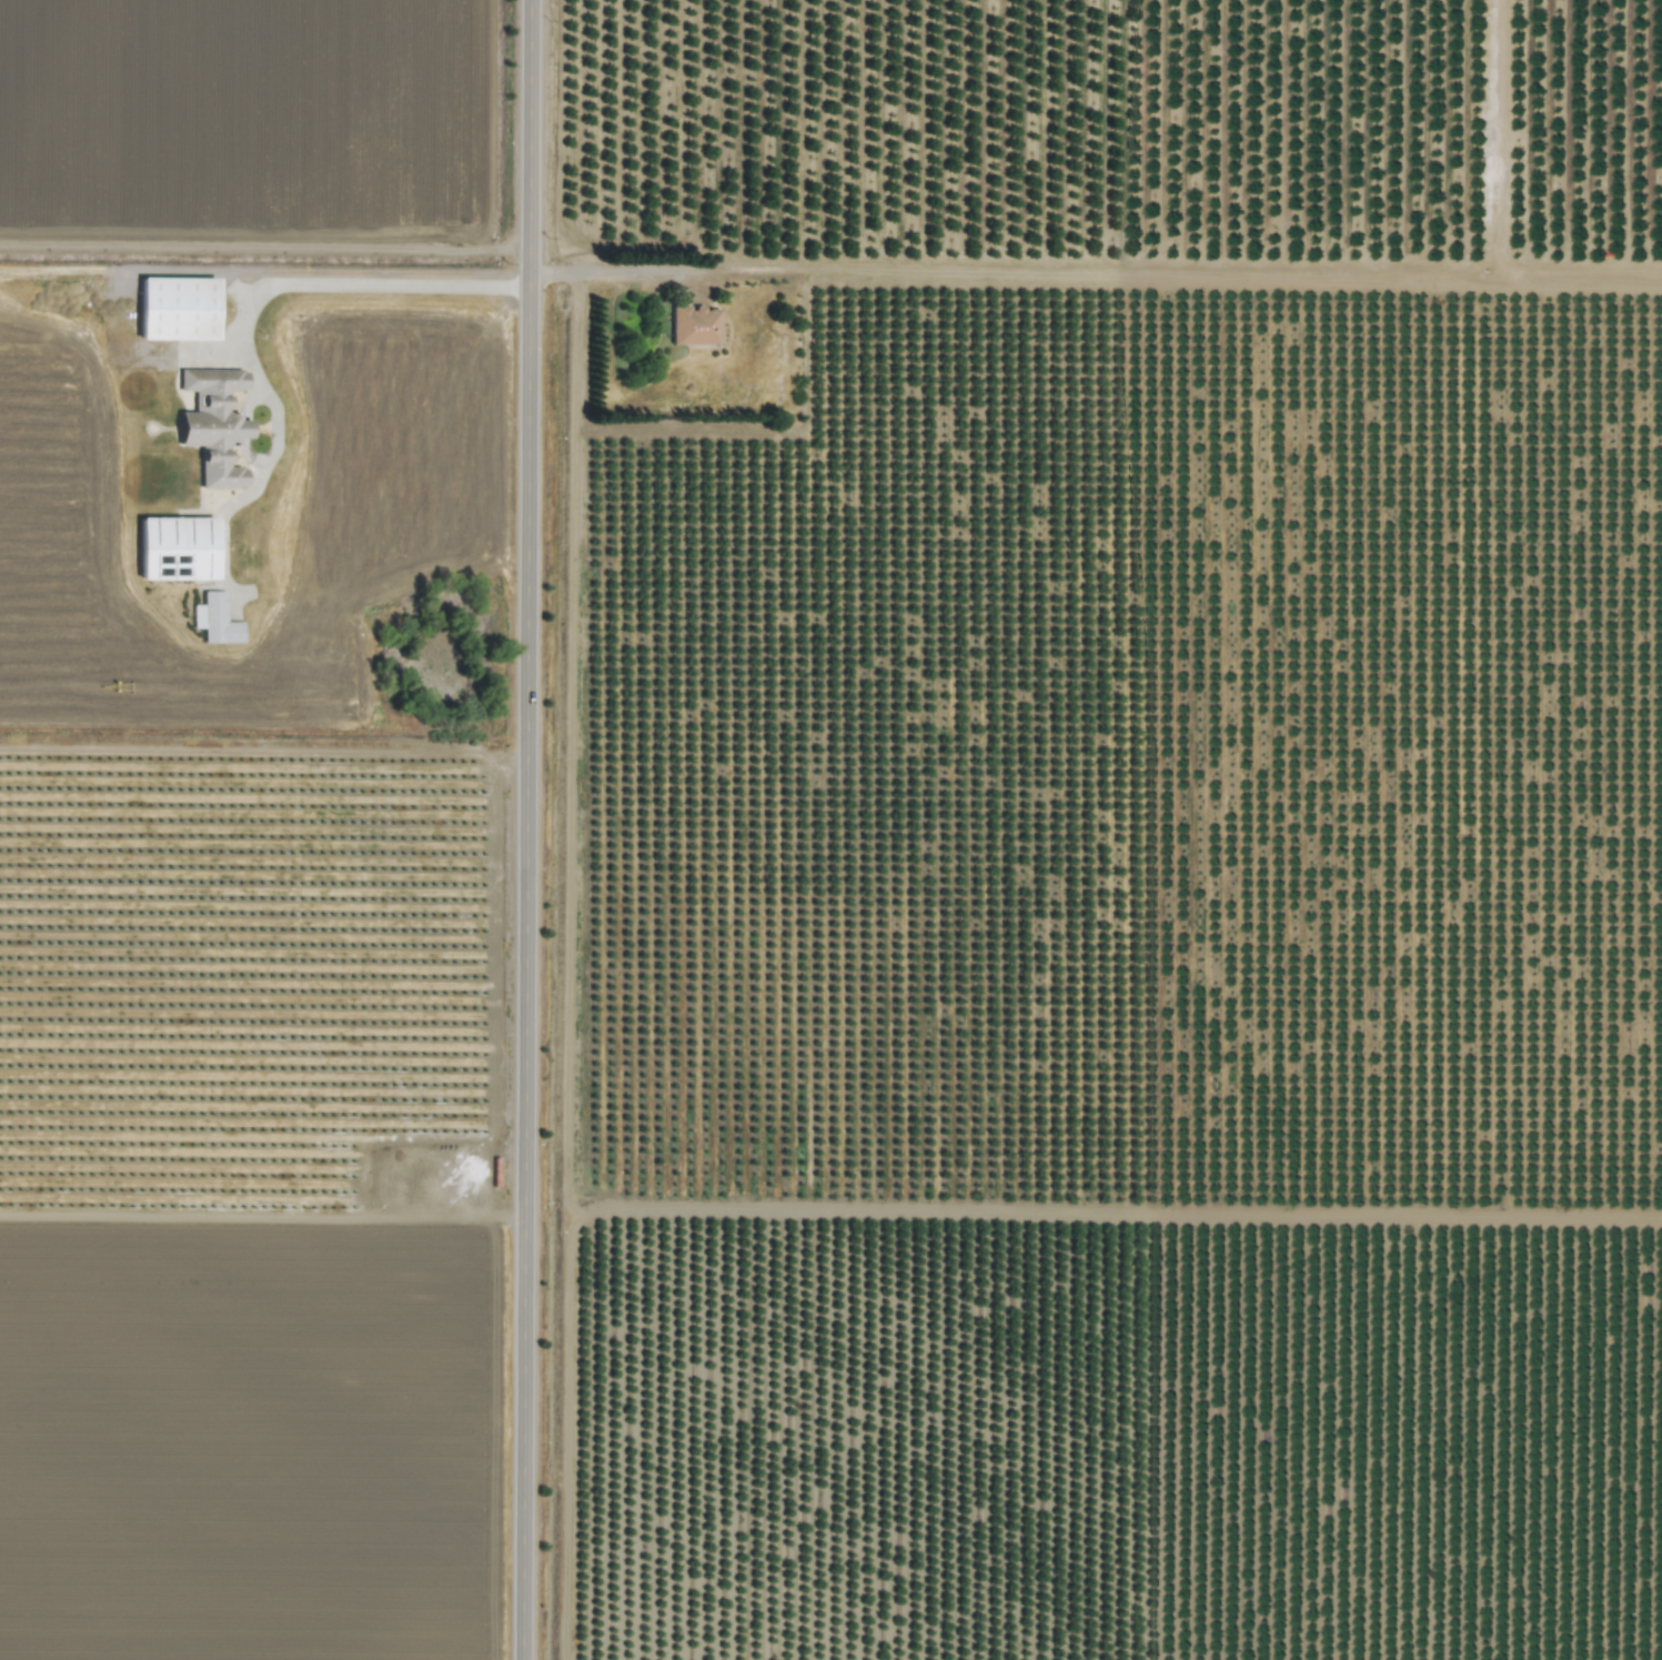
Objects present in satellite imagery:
road: (1500, 138)
road: (1097, 271)
road: (265, 281)
building: (177, 308)
building: (694, 324)
building: (193, 375)
building: (214, 427)
road: (274, 440)
building: (177, 547)
building: (214, 618)
road: (532, 829)

